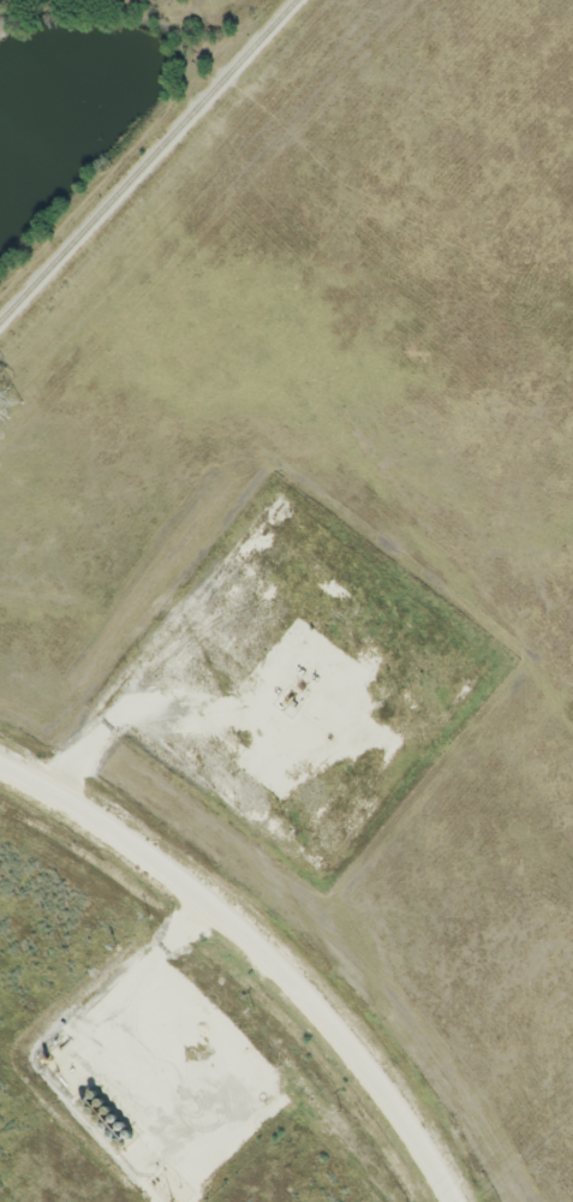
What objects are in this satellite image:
railway: (150, 162)
power tower: (4, 404)
road: (95, 739)
road: (253, 953)
road: (157, 959)

